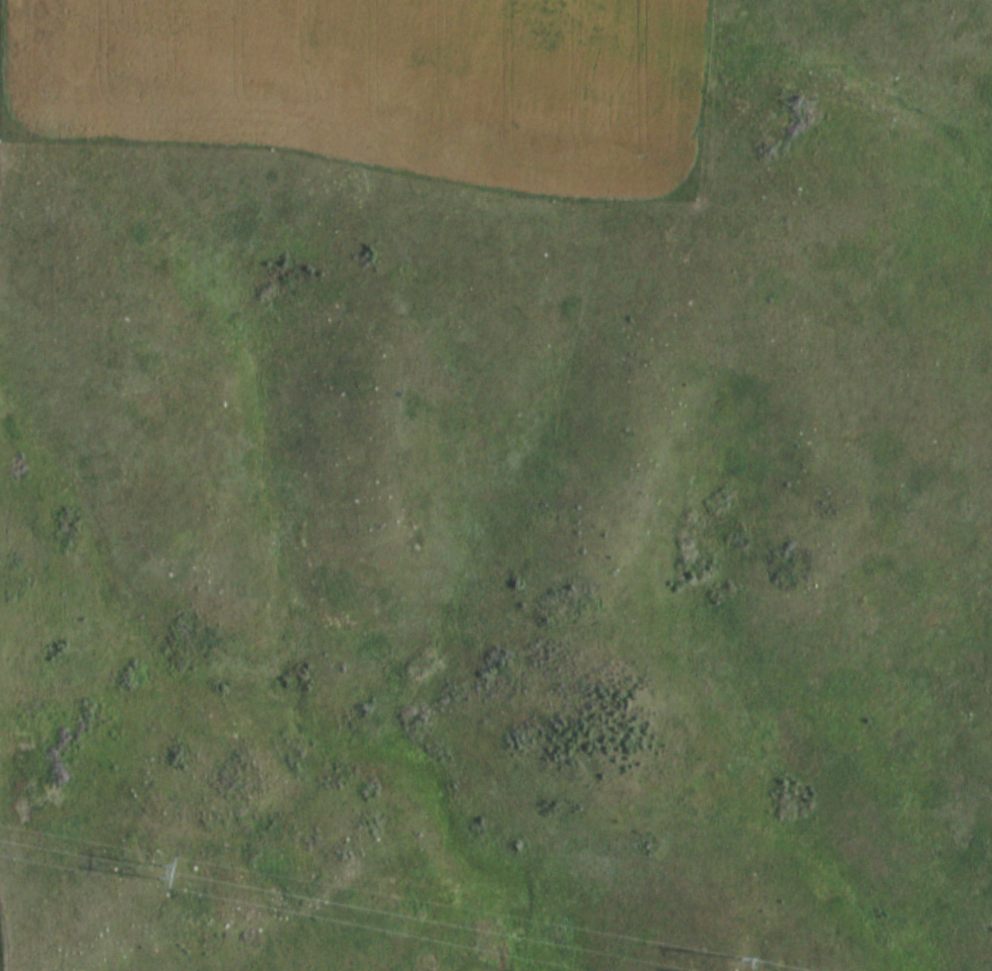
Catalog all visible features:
power tower: (159, 873)

